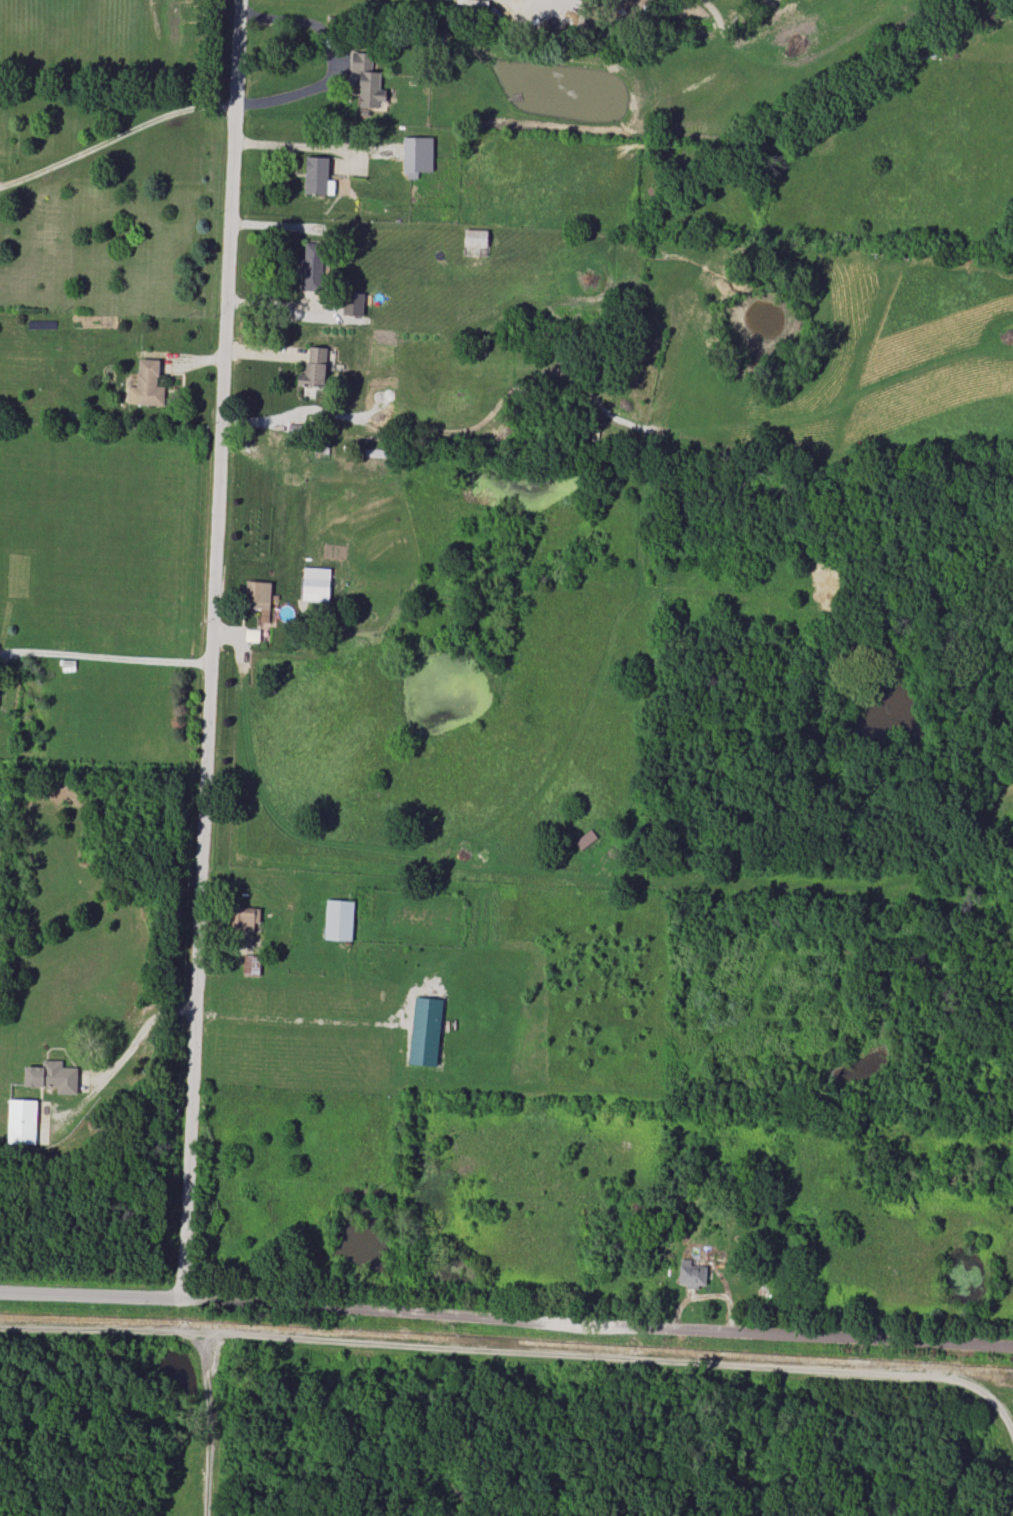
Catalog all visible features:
road: (278, 17)
building: (368, 80)
road: (299, 93)
road: (117, 136)
road: (290, 145)
building: (417, 156)
building: (317, 176)
road: (273, 225)
building: (310, 268)
road: (277, 303)
building: (353, 304)
building: (314, 368)
building: (146, 384)
building: (315, 584)
building: (257, 596)
road: (212, 649)
road: (107, 655)
building: (247, 918)
building: (338, 920)
building: (251, 964)
building: (425, 1031)
road: (129, 1049)
building: (52, 1076)
building: (21, 1121)
building: (690, 1274)
road: (506, 1314)
road: (497, 1351)
road: (1003, 1409)
road: (209, 1420)

